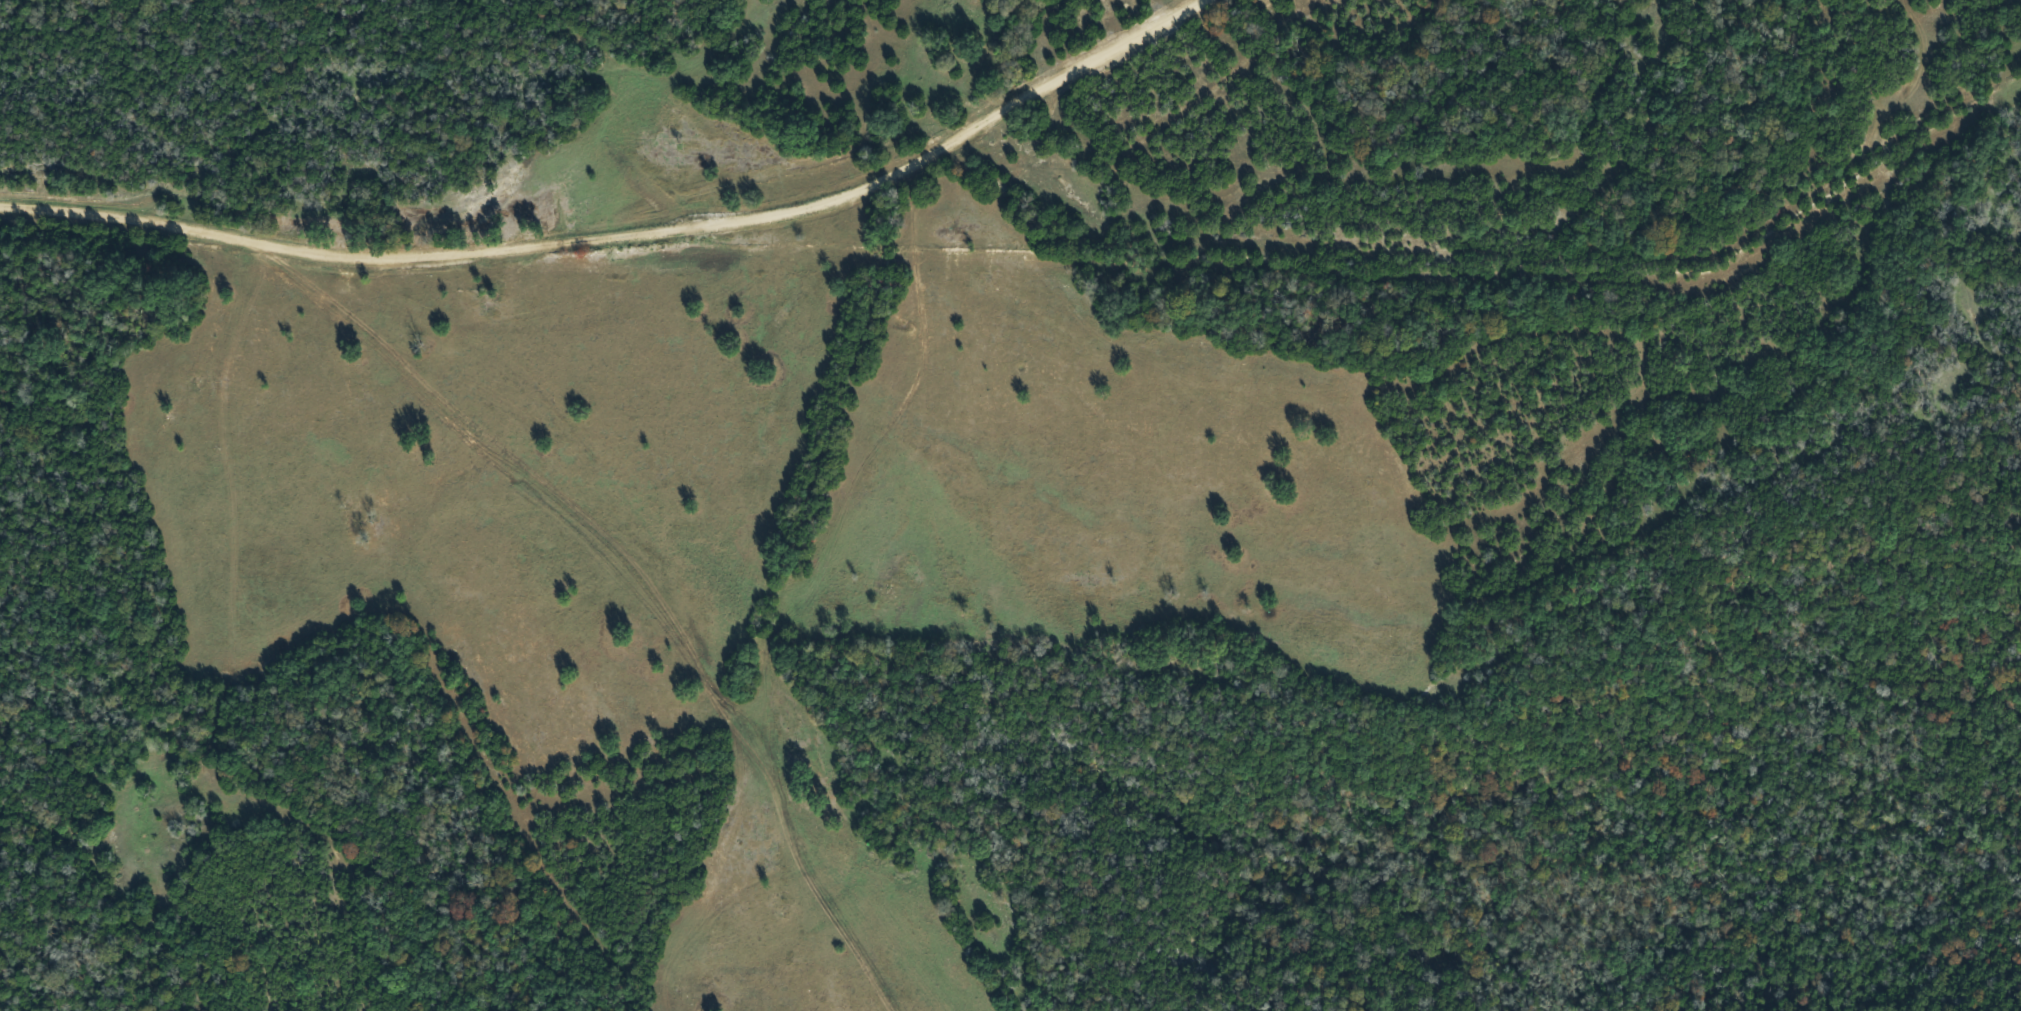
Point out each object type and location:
road: (629, 238)

